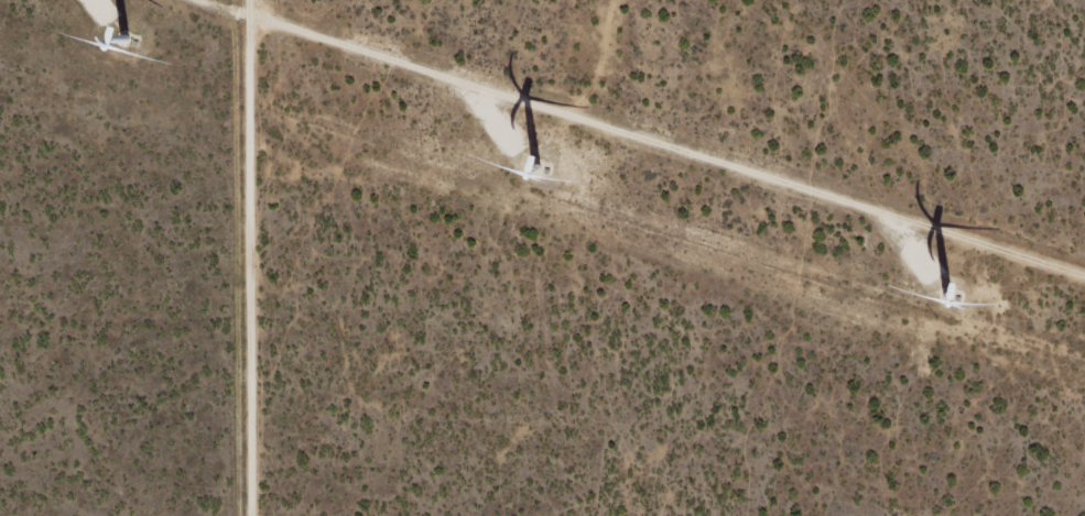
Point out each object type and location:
wind turbine: (113, 32)
road: (891, 157)
wind turbine: (511, 186)
road: (274, 257)
wind turbine: (944, 319)

